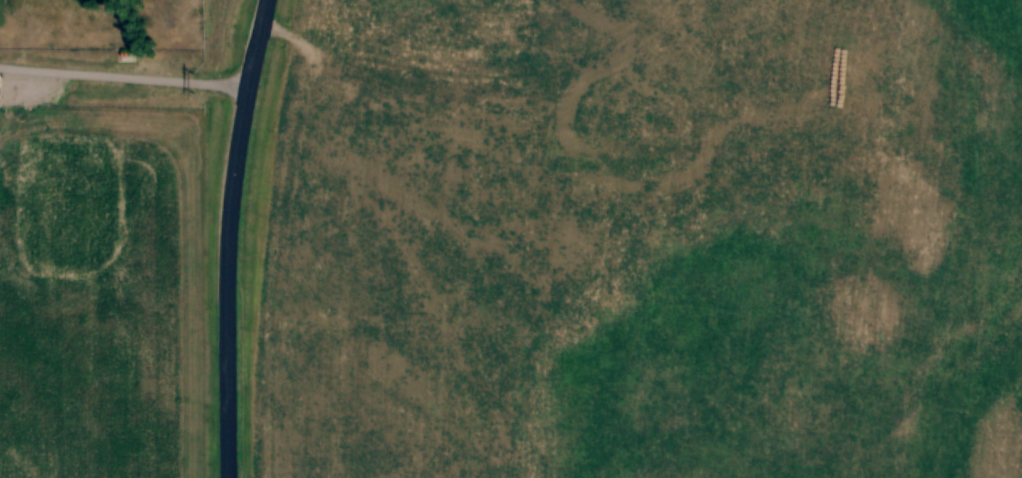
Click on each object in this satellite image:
building: (0, 97)
road: (226, 237)

